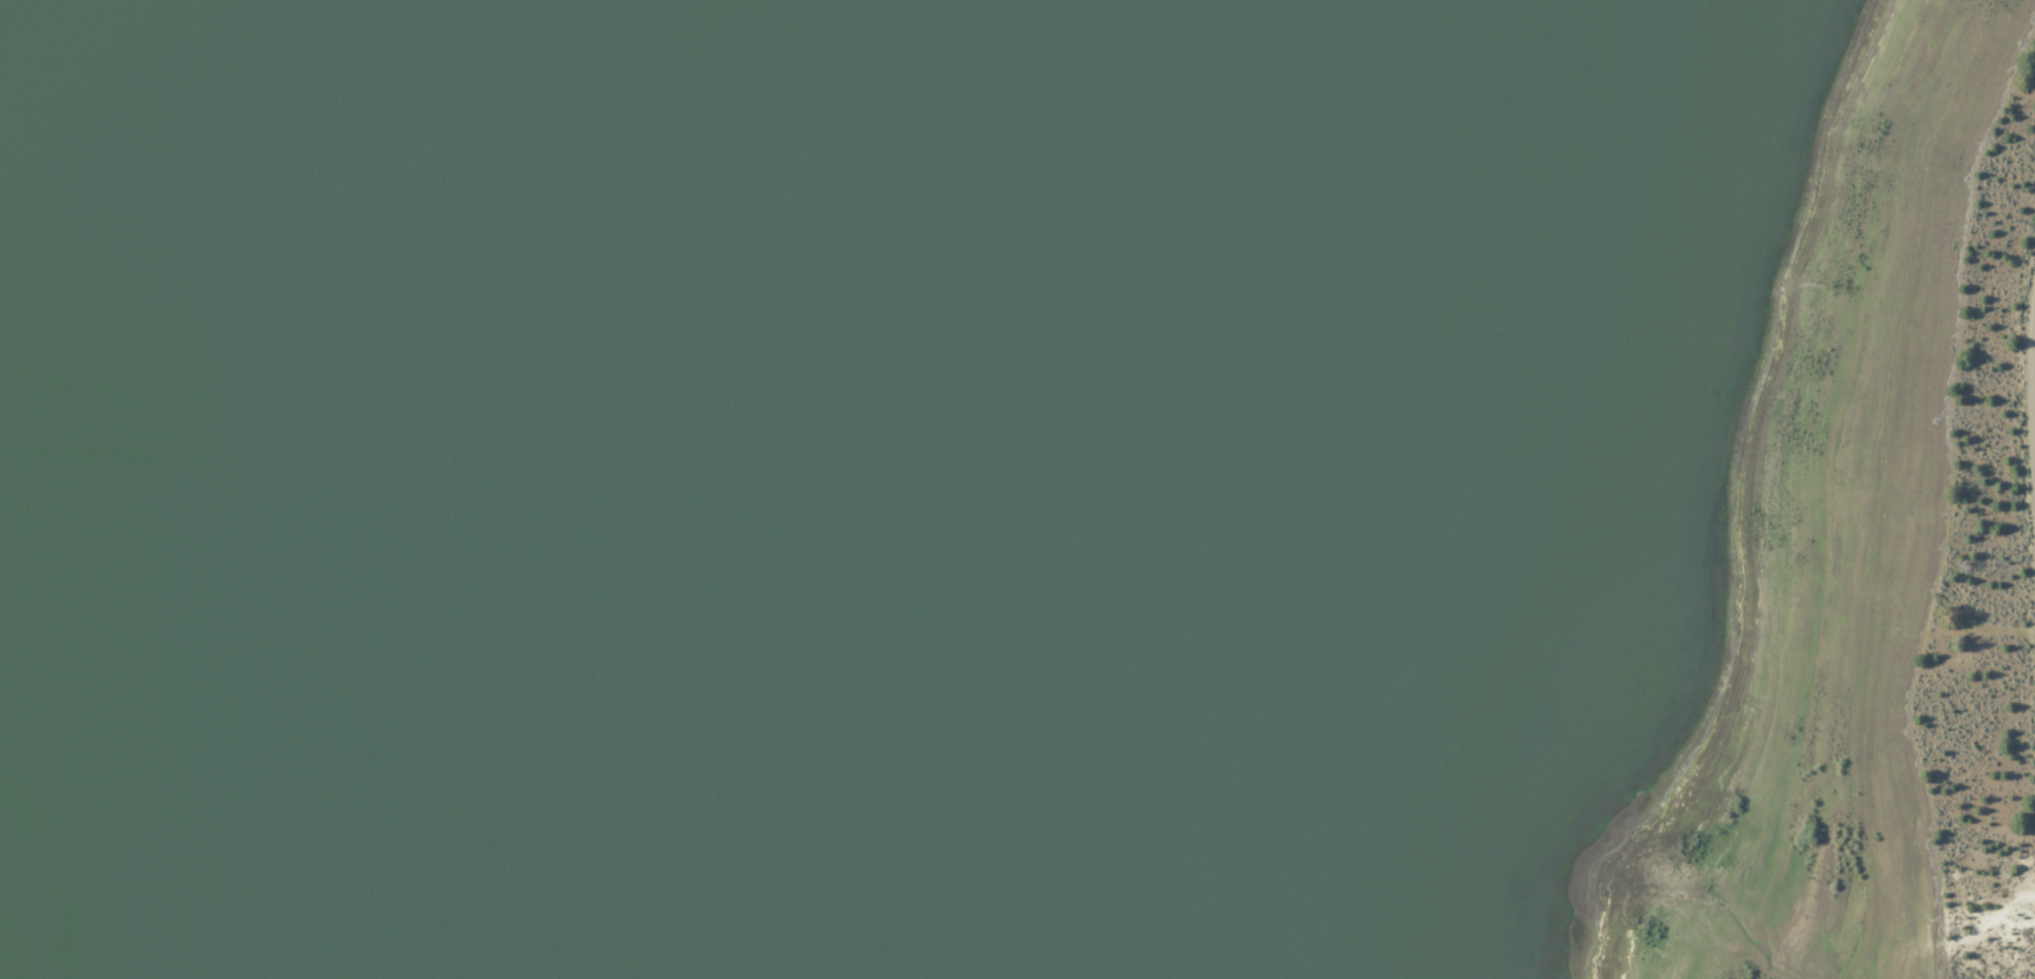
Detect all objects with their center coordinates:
road: (2033, 366)

